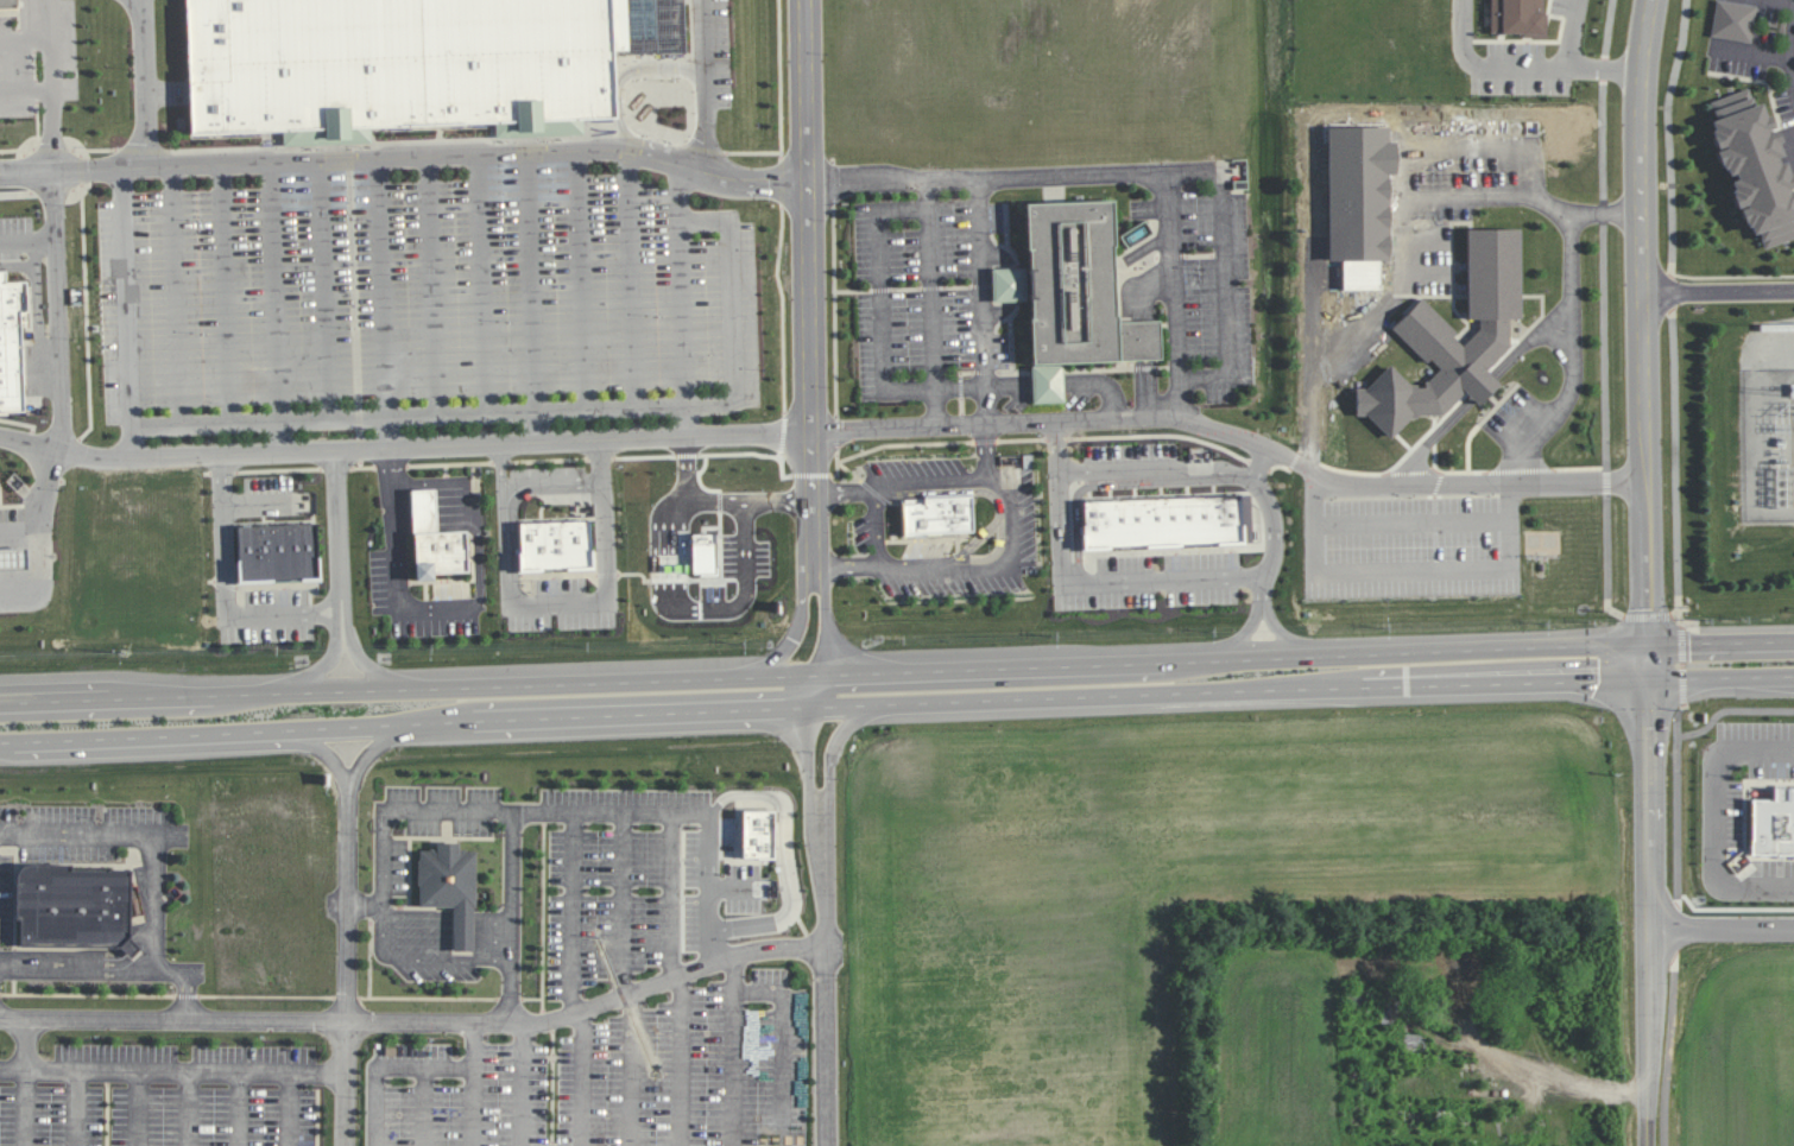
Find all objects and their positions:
building: (8, 5)
building: (1517, 17)
building: (1733, 20)
road: (1565, 33)
road: (25, 39)
road: (1788, 42)
road: (51, 44)
building: (397, 65)
road: (1522, 67)
road: (779, 75)
road: (701, 82)
road: (139, 84)
road: (55, 103)
road: (1668, 135)
road: (427, 140)
road: (705, 148)
road: (153, 151)
road: (751, 152)
road: (70, 154)
road: (434, 156)
building: (1754, 166)
road: (756, 167)
road: (1158, 170)
road: (1398, 170)
road: (27, 173)
road: (674, 189)
road: (1398, 233)
road: (27, 240)
road: (1565, 267)
road: (1174, 272)
road: (634, 276)
road: (577, 278)
road: (532, 280)
road: (480, 283)
road: (430, 285)
road: (384, 287)
road: (321, 290)
road: (810, 290)
road: (276, 292)
road: (1672, 292)
road: (1719, 292)
road: (223, 295)
road: (170, 298)
road: (983, 299)
road: (127, 300)
road: (882, 300)
road: (927, 300)
road: (361, 304)
parking lot: (430, 304)
building: (1081, 305)
road: (727, 309)
road: (1603, 310)
road: (57, 311)
road: (678, 311)
road: (1644, 330)
building: (1458, 336)
building: (11, 343)
road: (1559, 400)
road: (406, 416)
road: (683, 422)
road: (544, 426)
road: (393, 432)
road: (284, 437)
road: (599, 442)
road: (1423, 443)
road: (131, 445)
road: (986, 451)
road: (1675, 463)
road: (1152, 468)
road: (1416, 485)
road: (554, 487)
road: (993, 496)
road: (722, 499)
parking lot: (871, 501)
road: (436, 505)
road: (259, 506)
road: (1263, 512)
building: (936, 515)
parking lot: (1022, 519)
building: (1162, 520)
road: (1011, 523)
road: (1409, 523)
road: (505, 525)
road: (877, 528)
road: (37, 533)
road: (979, 539)
building: (434, 540)
road: (340, 543)
building: (555, 545)
building: (277, 551)
building: (13, 558)
gas station: (13, 558)
road: (662, 558)
road: (479, 561)
road: (400, 564)
road: (1404, 572)
road: (607, 574)
road: (747, 574)
road: (1080, 578)
road: (227, 595)
road: (1650, 615)
road: (1269, 621)
road: (832, 623)
road: (1247, 623)
road: (1735, 629)
road: (797, 632)
traffic signals: (1648, 645)
road: (1681, 661)
road: (369, 665)
road: (324, 666)
road: (897, 672)
traffic signals: (1648, 680)
road: (820, 692)
road: (896, 704)
road: (833, 748)
road: (374, 749)
road: (327, 752)
road: (808, 758)
road: (544, 813)
road: (602, 813)
road: (1717, 822)
building: (1773, 823)
building: (757, 834)
road: (781, 856)
road: (151, 865)
road: (710, 867)
road: (825, 874)
road: (384, 881)
building: (449, 888)
road: (348, 901)
road: (1651, 904)
road: (621, 906)
building: (72, 907)
road: (513, 918)
road: (1723, 932)
road: (1679, 944)
building: (1463, 979)
road: (270, 998)
road: (419, 1022)
road: (783, 1045)
road: (826, 1046)
road: (734, 1050)
road: (1673, 1051)
road: (26, 1056)
road: (680, 1059)
road: (185, 1068)
road: (410, 1069)
road: (632, 1070)
road: (1565, 1075)
road: (582, 1079)
road: (345, 1083)
road: (522, 1084)
road: (26, 1106)
road: (77, 1106)
road: (135, 1107)
road: (188, 1107)
road: (242, 1107)
road: (291, 1107)
road: (424, 1107)
road: (475, 1107)

